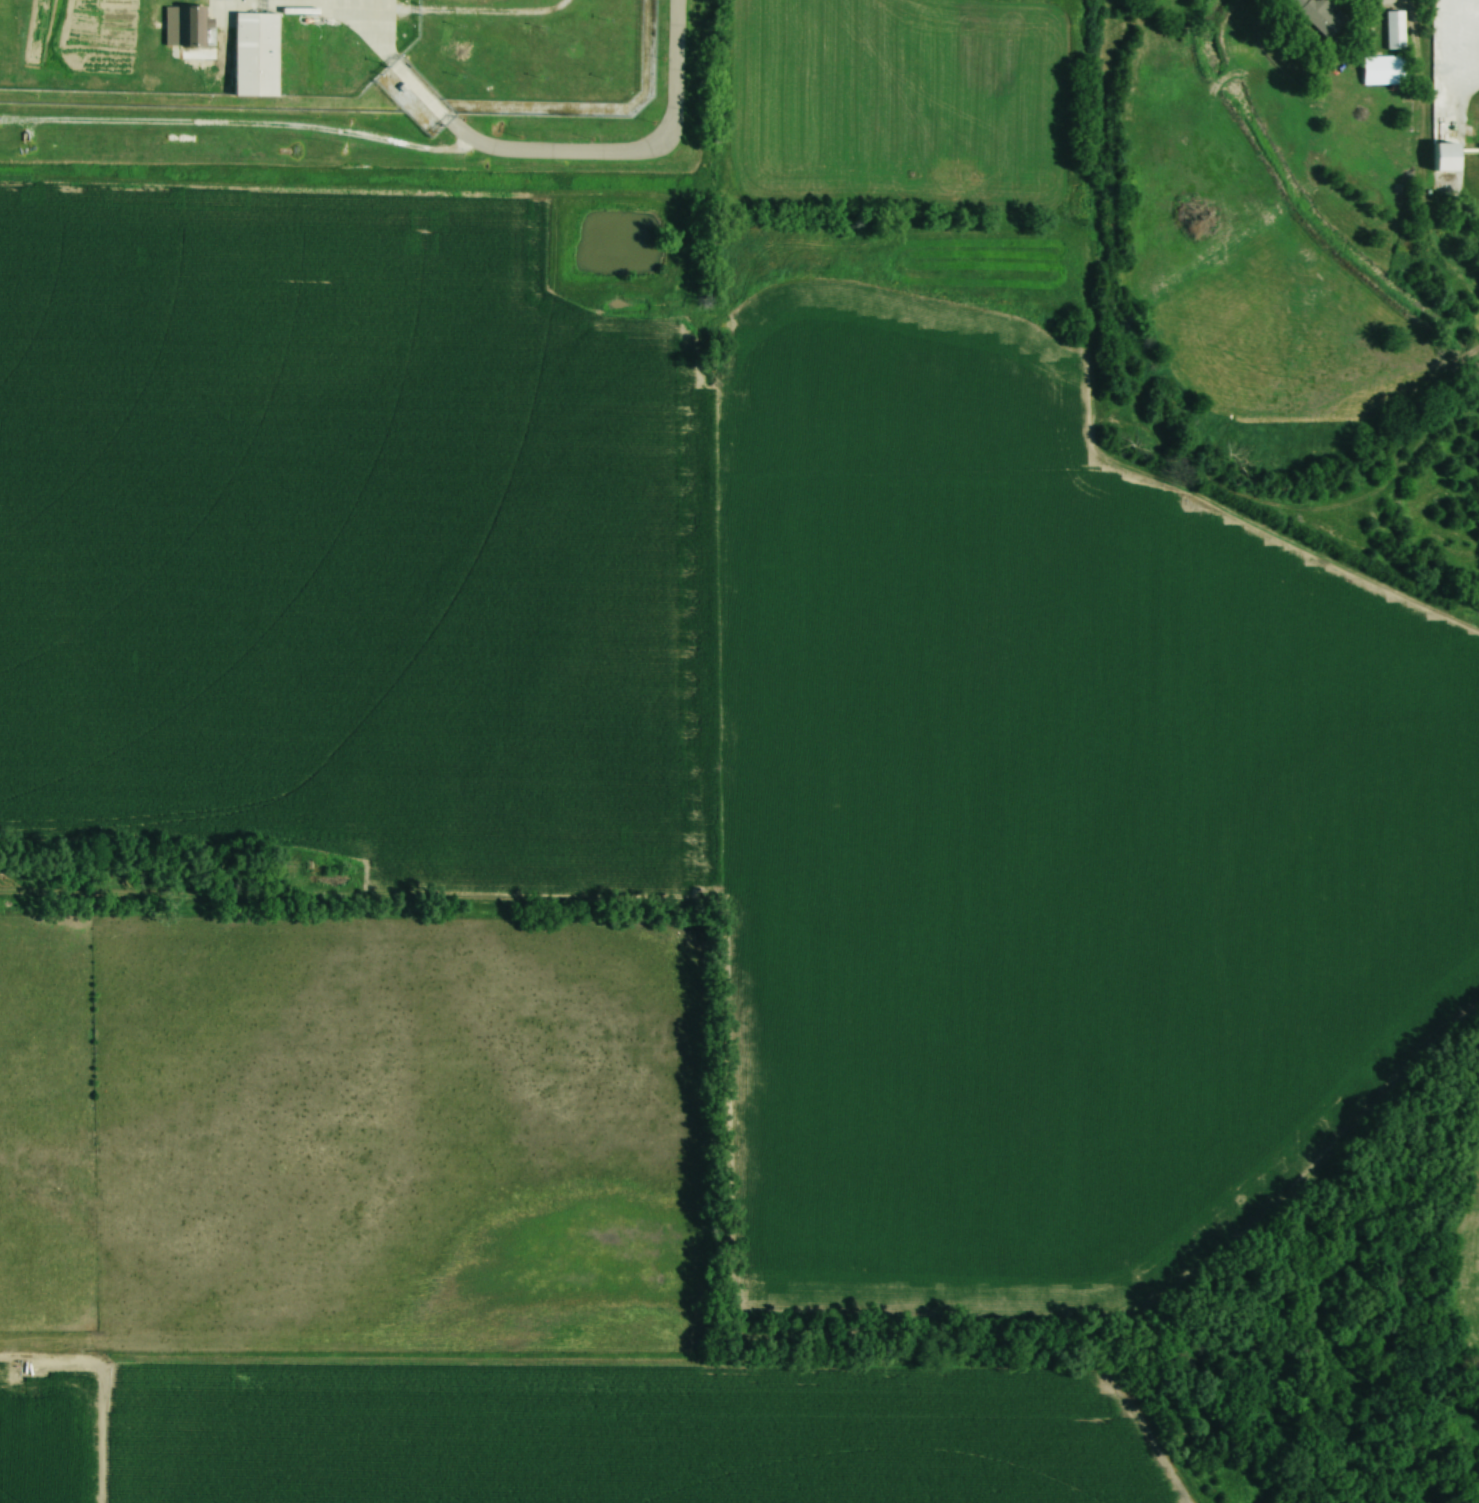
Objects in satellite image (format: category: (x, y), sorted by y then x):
building: (1316, 15)
road: (1361, 18)
building: (181, 27)
building: (1392, 30)
road: (1445, 53)
building: (252, 55)
building: (1382, 73)
road: (544, 150)
building: (1442, 156)
crop: (343, 536)
crop: (1064, 876)
crop: (625, 1430)
crop: (48, 1434)

